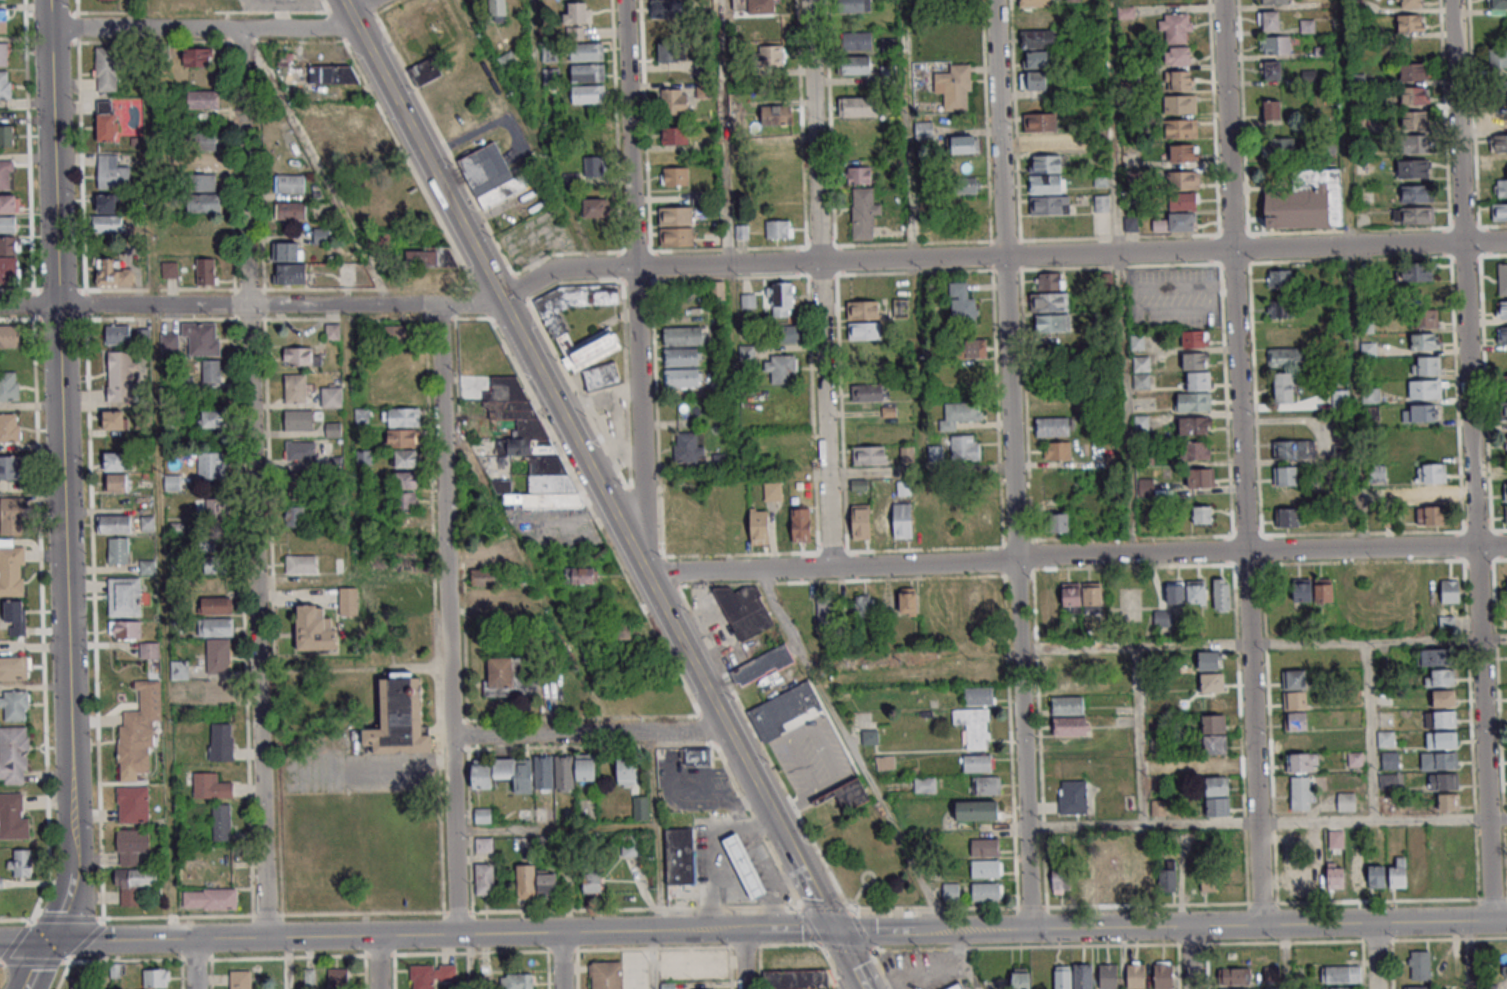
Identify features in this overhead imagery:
building: (1072, 0)
building: (1273, 2)
building: (1036, 3)
building: (1409, 4)
building: (1497, 5)
building: (854, 6)
building: (754, 7)
building: (669, 8)
road: (365, 9)
building: (497, 10)
road: (48, 14)
building: (1036, 18)
building: (3, 20)
building: (577, 20)
building: (1269, 21)
building: (1409, 22)
building: (1175, 27)
road: (144, 28)
road: (296, 28)
building: (1038, 39)
building: (856, 40)
building: (1275, 45)
building: (586, 52)
building: (671, 52)
building: (3, 53)
building: (1180, 55)
building: (197, 56)
building: (770, 57)
building: (1498, 57)
building: (1038, 59)
building: (506, 60)
building: (856, 65)
building: (106, 69)
building: (1272, 70)
building: (425, 71)
building: (1412, 71)
building: (587, 73)
building: (332, 74)
building: (1033, 80)
building: (1181, 80)
building: (5, 85)
building: (954, 88)
building: (1499, 90)
building: (588, 94)
building: (1414, 94)
building: (203, 99)
building: (673, 101)
building: (1180, 104)
building: (858, 106)
building: (1271, 110)
building: (319, 113)
building: (773, 114)
building: (1498, 115)
building: (1415, 119)
building: (106, 121)
building: (350, 128)
building: (1181, 128)
road: (908, 129)
building: (923, 130)
road: (723, 132)
building: (1041, 133)
building: (6, 135)
building: (674, 135)
building: (202, 141)
building: (1498, 141)
road: (396, 143)
building: (1414, 143)
building: (963, 145)
building: (1279, 148)
building: (1184, 153)
building: (203, 161)
building: (1045, 163)
building: (593, 166)
building: (1500, 167)
building: (1412, 168)
building: (112, 172)
building: (5, 174)
building: (491, 175)
building: (675, 175)
building: (858, 175)
building: (1100, 179)
building: (1183, 180)
building: (203, 182)
building: (289, 183)
building: (1046, 183)
building: (966, 185)
building: (1500, 188)
building: (1416, 193)
building: (1305, 200)
building: (1182, 201)
building: (106, 203)
building: (205, 203)
building: (1101, 203)
building: (8, 204)
building: (1049, 205)
building: (595, 207)
building: (290, 210)
building: (1499, 211)
building: (863, 213)
building: (1413, 215)
building: (1177, 222)
building: (107, 223)
building: (8, 224)
building: (676, 226)
building: (779, 228)
building: (967, 228)
building: (321, 236)
building: (8, 245)
building: (289, 251)
building: (421, 259)
road: (778, 262)
building: (8, 269)
building: (205, 271)
building: (1416, 271)
building: (112, 273)
building: (291, 273)
road: (1349, 274)
road: (634, 275)
road: (1122, 276)
building: (1279, 278)
building: (1502, 278)
building: (1049, 281)
road: (819, 283)
road: (295, 289)
building: (717, 289)
building: (1424, 295)
building: (782, 299)
building: (1048, 302)
road: (28, 306)
building: (962, 306)
building: (900, 307)
building: (1280, 308)
building: (863, 309)
building: (1501, 309)
building: (1426, 318)
road: (56, 319)
road: (212, 319)
building: (553, 321)
building: (1053, 323)
building: (864, 330)
building: (332, 331)
building: (399, 333)
building: (786, 334)
building: (1502, 334)
building: (118, 335)
building: (10, 336)
building: (683, 337)
building: (1194, 338)
building: (200, 339)
building: (1424, 341)
building: (168, 342)
building: (971, 348)
building: (1284, 348)
building: (746, 353)
building: (300, 356)
building: (682, 357)
building: (1196, 360)
road: (535, 365)
building: (1425, 365)
building: (781, 369)
building: (971, 369)
building: (211, 370)
building: (1142, 372)
building: (120, 376)
building: (601, 376)
building: (683, 378)
building: (1198, 380)
building: (1504, 383)
building: (8, 386)
building: (295, 388)
building: (1284, 388)
building: (1424, 389)
building: (867, 392)
building: (331, 396)
building: (1339, 399)
building: (1194, 402)
building: (1052, 406)
building: (1503, 409)
building: (1420, 412)
road: (733, 415)
building: (959, 416)
building: (401, 417)
building: (211, 419)
building: (114, 420)
building: (299, 420)
building: (1195, 425)
building: (1053, 426)
building: (9, 428)
building: (402, 438)
building: (1506, 444)
building: (687, 446)
road: (62, 447)
building: (965, 447)
building: (528, 449)
building: (1294, 449)
building: (300, 450)
building: (1057, 450)
building: (1194, 450)
building: (935, 453)
building: (870, 454)
building: (907, 454)
road: (609, 456)
building: (405, 458)
road: (1472, 460)
building: (115, 461)
building: (721, 462)
road: (1241, 462)
building: (211, 464)
road: (1012, 464)
building: (10, 468)
road: (919, 468)
building: (1377, 472)
building: (1286, 475)
building: (1201, 477)
building: (406, 479)
building: (302, 481)
building: (1505, 481)
building: (116, 482)
building: (172, 482)
road: (252, 482)
building: (1432, 482)
building: (859, 484)
building: (772, 491)
building: (1288, 497)
building: (404, 500)
building: (678, 507)
building: (214, 508)
building: (1505, 514)
building: (1202, 515)
building: (1431, 515)
building: (11, 516)
building: (295, 516)
building: (1289, 518)
building: (902, 520)
building: (944, 520)
building: (985, 520)
building: (881, 521)
building: (923, 521)
building: (861, 522)
building: (1061, 522)
building: (113, 524)
building: (801, 524)
building: (759, 526)
building: (118, 550)
road: (1168, 552)
building: (483, 554)
building: (214, 556)
building: (301, 564)
building: (405, 564)
building: (10, 569)
road: (738, 570)
building: (580, 575)
building: (483, 577)
building: (1385, 588)
building: (1312, 589)
building: (1450, 590)
building: (1185, 592)
building: (1343, 592)
building: (1221, 594)
building: (123, 597)
building: (1082, 597)
building: (485, 600)
building: (348, 601)
building: (908, 601)
building: (973, 601)
building: (1048, 601)
building: (216, 606)
building: (864, 606)
building: (744, 611)
building: (826, 611)
building: (15, 617)
road: (447, 619)
building: (215, 627)
building: (124, 629)
building: (314, 629)
building: (619, 631)
road: (1262, 641)
building: (149, 650)
building: (218, 656)
building: (1435, 657)
building: (1209, 660)
building: (1067, 663)
building: (761, 666)
building: (13, 668)
building: (984, 673)
building: (1439, 677)
building: (505, 679)
building: (1066, 685)
building: (216, 689)
building: (978, 697)
building: (1443, 698)
building: (13, 705)
building: (782, 710)
building: (1068, 715)
building: (399, 718)
building: (1440, 719)
building: (1298, 724)
building: (973, 727)
road: (1371, 729)
building: (138, 731)
road: (589, 733)
road: (1139, 734)
building: (870, 735)
building: (1385, 738)
building: (1441, 739)
building: (220, 743)
building: (1214, 744)
road: (850, 749)
building: (13, 753)
building: (698, 756)
building: (1389, 760)
building: (1439, 760)
building: (885, 762)
road: (379, 763)
building: (977, 763)
building: (584, 767)
building: (543, 772)
building: (564, 773)
building: (626, 773)
building: (504, 774)
building: (1389, 781)
building: (1443, 781)
building: (925, 785)
building: (984, 785)
building: (210, 786)
building: (1302, 792)
building: (845, 794)
building: (1072, 797)
road: (763, 798)
building: (1346, 801)
building: (1448, 801)
building: (132, 804)
building: (640, 808)
building: (977, 810)
building: (482, 815)
building: (12, 817)
building: (220, 822)
road: (1266, 822)
road: (555, 829)
road: (659, 831)
building: (1336, 838)
building: (484, 845)
building: (632, 845)
building: (131, 846)
building: (984, 847)
road: (751, 856)
building: (679, 857)
road: (757, 858)
park: (865, 860)
road: (740, 861)
building: (22, 863)
building: (1460, 863)
building: (742, 866)
building: (986, 868)
building: (1355, 873)
building: (1398, 873)
building: (1418, 874)
building: (1439, 874)
building: (1145, 875)
building: (1335, 875)
building: (1377, 876)
road: (718, 879)
building: (1084, 879)
building: (1168, 879)
building: (484, 880)
building: (1209, 880)
building: (525, 881)
road: (872, 881)
building: (1060, 881)
building: (1104, 882)
building: (546, 883)
building: (592, 883)
building: (134, 884)
road: (934, 891)
building: (986, 891)
building: (949, 892)
road: (770, 893)
road: (856, 896)
road: (815, 897)
road: (1504, 897)
building: (209, 898)
road: (1491, 898)
road: (740, 901)
road: (1376, 901)
road: (1261, 903)
road: (69, 905)
road: (1146, 905)
road: (981, 907)
road: (1030, 907)
road: (935, 908)
road: (800, 909)
road: (823, 909)
road: (847, 909)
road: (890, 909)
road: (851, 912)
road: (848, 913)
road: (286, 914)
road: (69, 918)
road: (1268, 924)
road: (808, 927)
road: (787, 929)
traffic signals: (833, 929)
road: (931, 929)
road: (859, 932)
road: (397, 935)
road: (1490, 937)
road: (1468, 938)
road: (1426, 939)
street lamp: (1173, 940)
road: (1376, 940)
road: (26, 941)
traffic signals: (52, 941)
road: (1326, 941)
road: (1283, 942)
road: (1227, 943)
street lamp: (1332, 943)
road: (819, 944)
road: (844, 946)
road: (1073, 946)
road: (910, 948)
road: (959, 948)
road: (1467, 955)
road: (1284, 956)
road: (1375, 956)
road: (1190, 957)
parking lot: (918, 958)
road: (963, 958)
road: (743, 959)
road: (848, 959)
road: (560, 960)
road: (652, 960)
road: (49, 961)
road: (471, 961)
road: (377, 962)
road: (195, 963)
road: (285, 963)
road: (38, 964)
road: (104, 964)
building: (1419, 965)
road: (911, 966)
building: (795, 970)
building: (1506, 971)
building: (1271, 973)
road: (935, 974)
building: (1136, 974)
building: (1163, 974)
building: (431, 975)
building: (607, 975)
building: (1339, 975)
building: (1083, 976)
building: (1108, 976)
building: (1234, 976)
building: (155, 977)
building: (1062, 977)
building: (337, 978)
parking lot: (957, 978)
building: (1022, 978)
building: (239, 980)
parking lot: (936, 980)
building: (518, 981)
road: (848, 982)
building: (954, 987)
building: (1419, 987)
building: (1236, 988)
building: (1336, 988)

